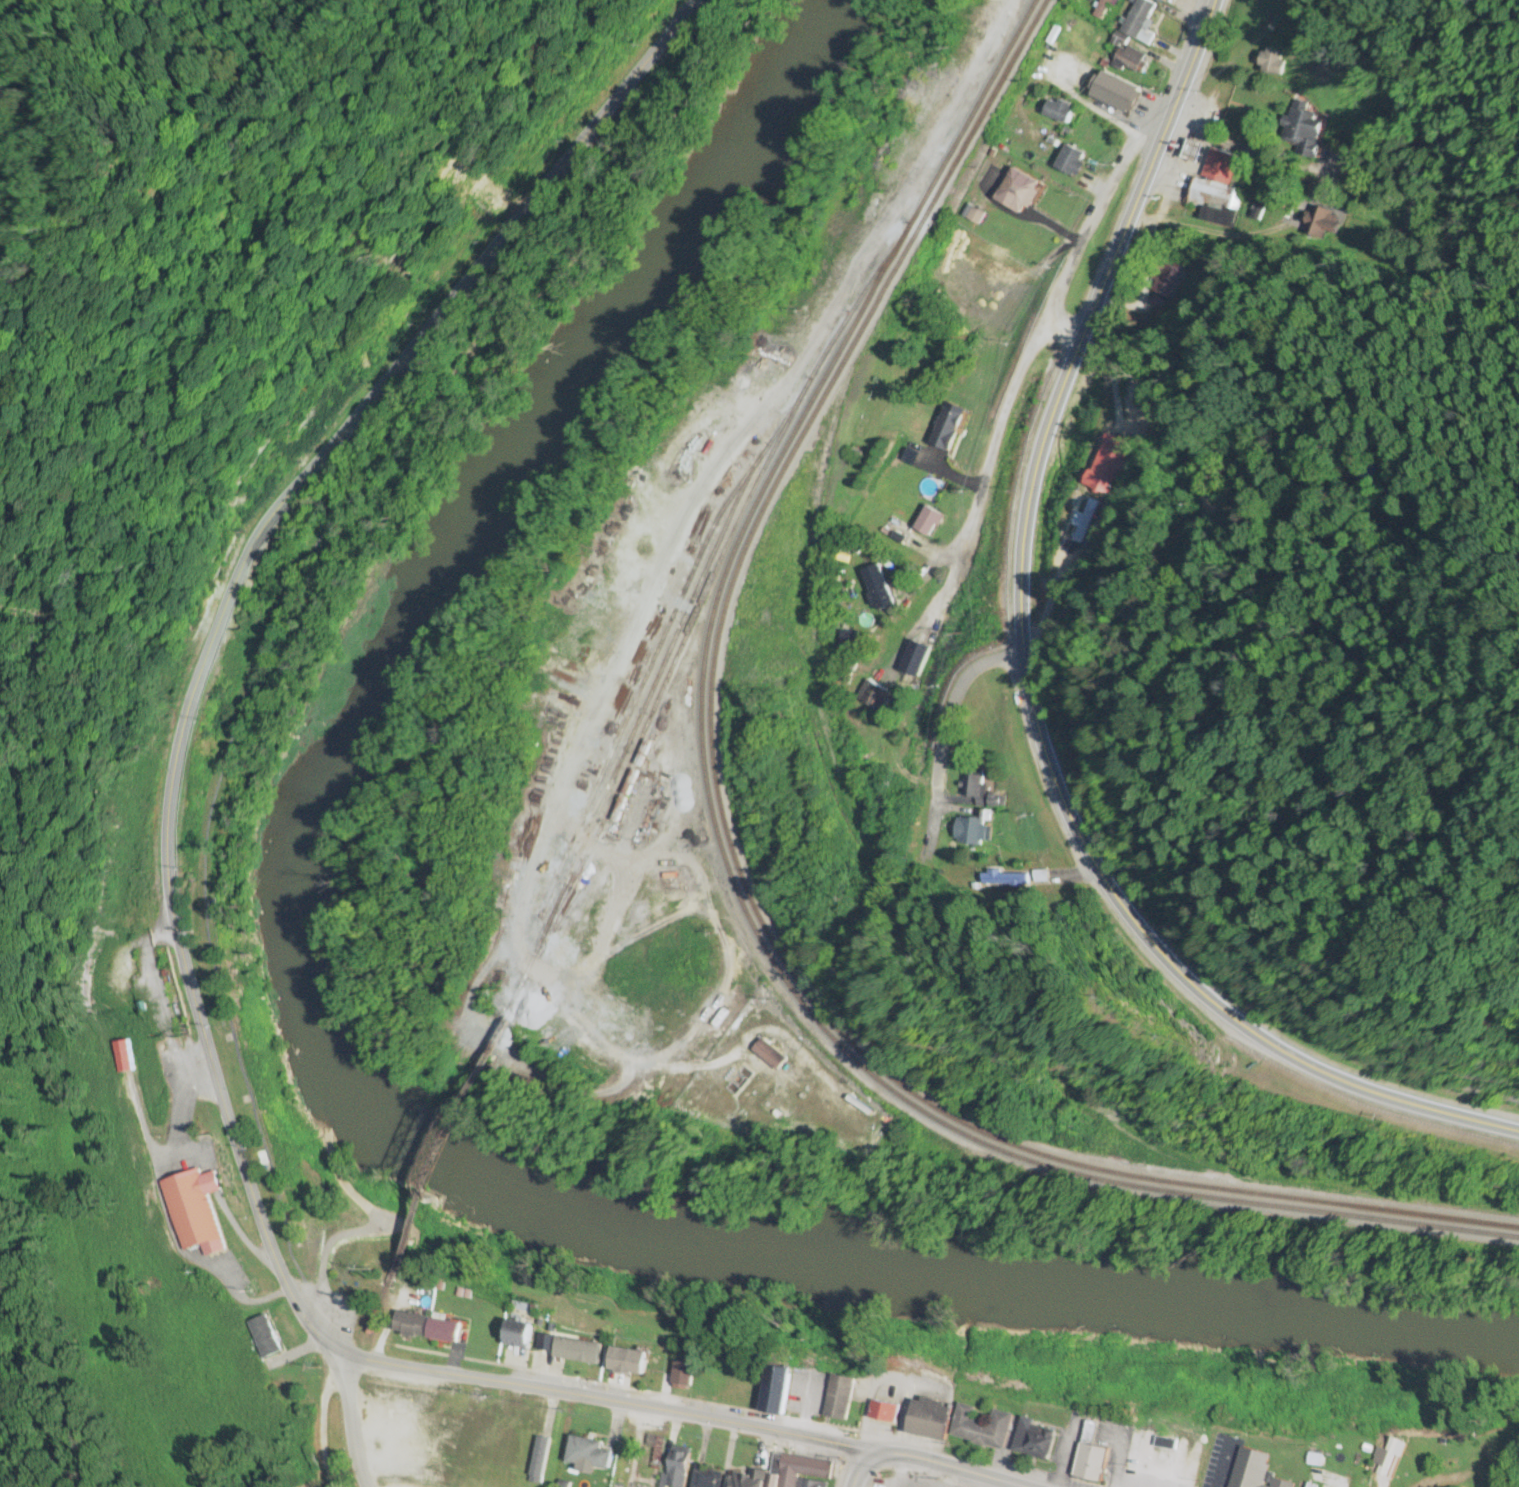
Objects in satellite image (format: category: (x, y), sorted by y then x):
building: (1160, 1)
building: (1101, 9)
building: (1138, 23)
building: (1128, 61)
building: (1271, 62)
building: (1116, 94)
building: (1058, 112)
building: (1301, 133)
building: (1071, 162)
building: (1218, 183)
building: (1019, 191)
road: (1098, 213)
building: (961, 267)
building: (1167, 282)
building: (989, 285)
road: (990, 428)
building: (945, 430)
building: (1108, 466)
building: (928, 521)
building: (1082, 521)
building: (877, 587)
road: (284, 610)
road: (1030, 679)
building: (872, 696)
road: (942, 751)
building: (973, 786)
building: (973, 832)
railway: (730, 852)
road: (169, 882)
building: (769, 1055)
building: (123, 1057)
river: (327, 1099)
railway: (451, 1138)
building: (193, 1212)
road: (1413, 1225)
building: (409, 1325)
building: (518, 1325)
building: (444, 1331)
building: (263, 1338)
building: (626, 1361)
building: (681, 1374)
road: (160, 1387)
building: (774, 1390)
building: (837, 1397)
building: (882, 1411)
building: (928, 1419)
road: (344, 1420)
building: (981, 1428)
building: (1033, 1440)
building: (1165, 1444)
building: (587, 1454)
building: (1385, 1456)
building: (539, 1460)
road: (945, 1463)
building: (1090, 1464)
building: (675, 1469)
building: (1253, 1471)
road: (855, 1472)
building: (785, 1474)
building: (704, 1478)
road: (1018, 1486)

